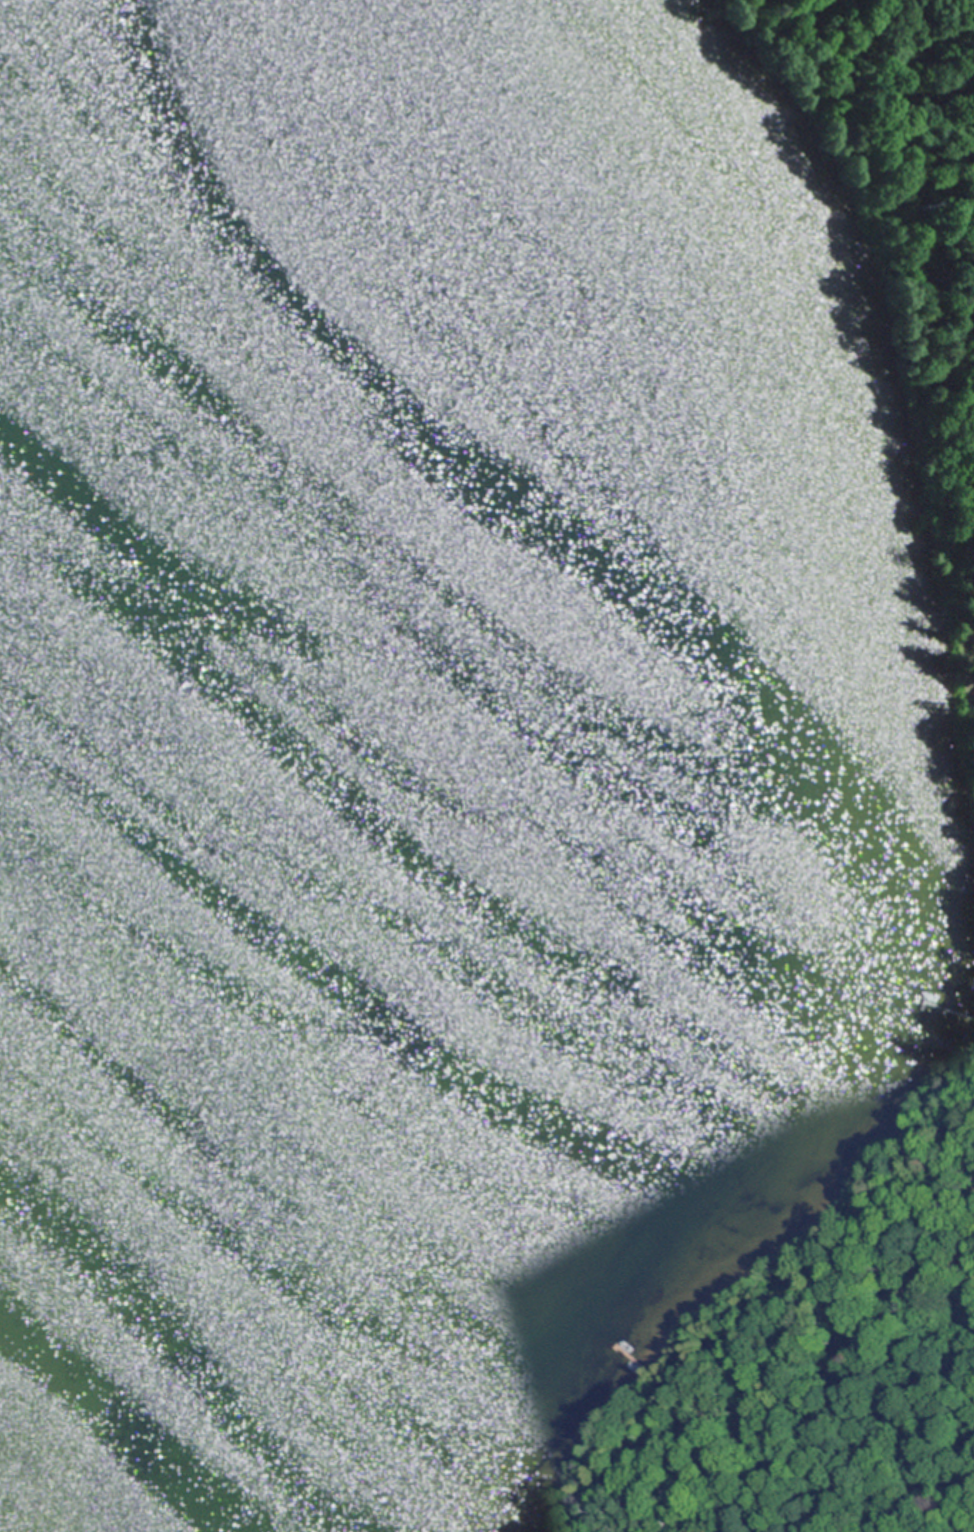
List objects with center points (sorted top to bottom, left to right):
road: (918, 247)
road: (901, 1342)

